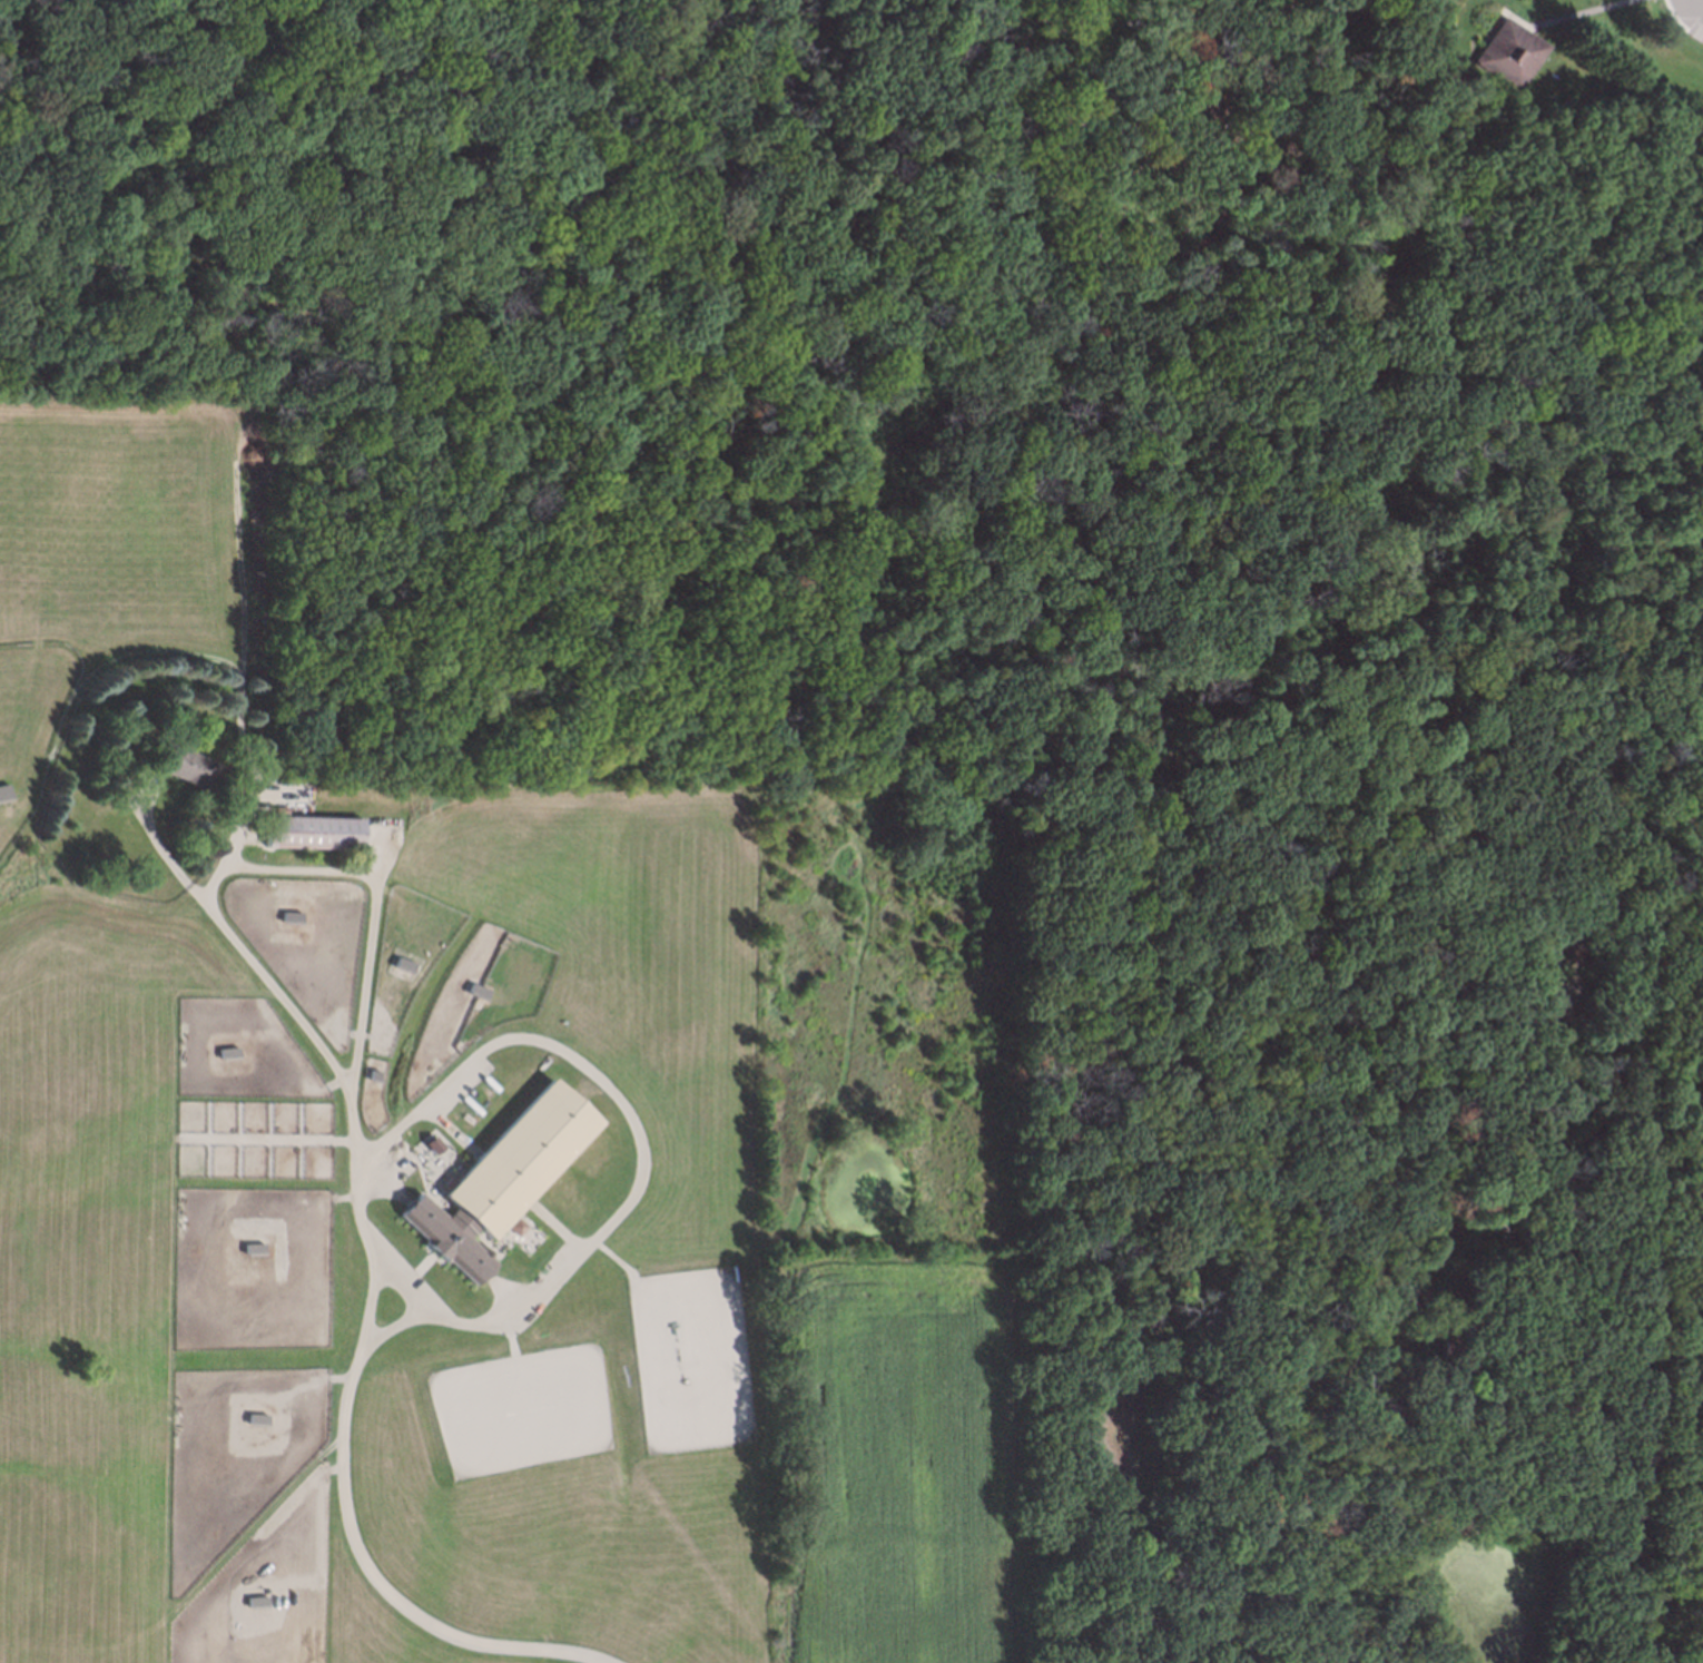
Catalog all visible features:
parking lot: (1697, 4)
road: (505, 7)
road: (1694, 7)
road: (1575, 14)
building: (1507, 53)
building: (1444, 70)
road: (1441, 117)
road: (572, 191)
road: (1621, 224)
road: (1145, 236)
road: (851, 256)
road: (1237, 322)
road: (1587, 351)
road: (1409, 364)
park: (956, 424)
road: (663, 594)
building: (180, 764)
building: (2, 788)
building: (306, 833)
road: (1697, 863)
road: (373, 892)
building: (287, 914)
building: (400, 962)
building: (473, 988)
building: (225, 1051)
building: (433, 1144)
road: (641, 1149)
building: (499, 1175)
building: (516, 1227)
building: (248, 1247)
road: (412, 1281)
road: (373, 1287)
building: (1451, 1347)
road: (1485, 1357)
building: (1436, 1401)
building: (253, 1418)
building: (1448, 1428)
road: (1610, 1583)
building: (253, 1601)

